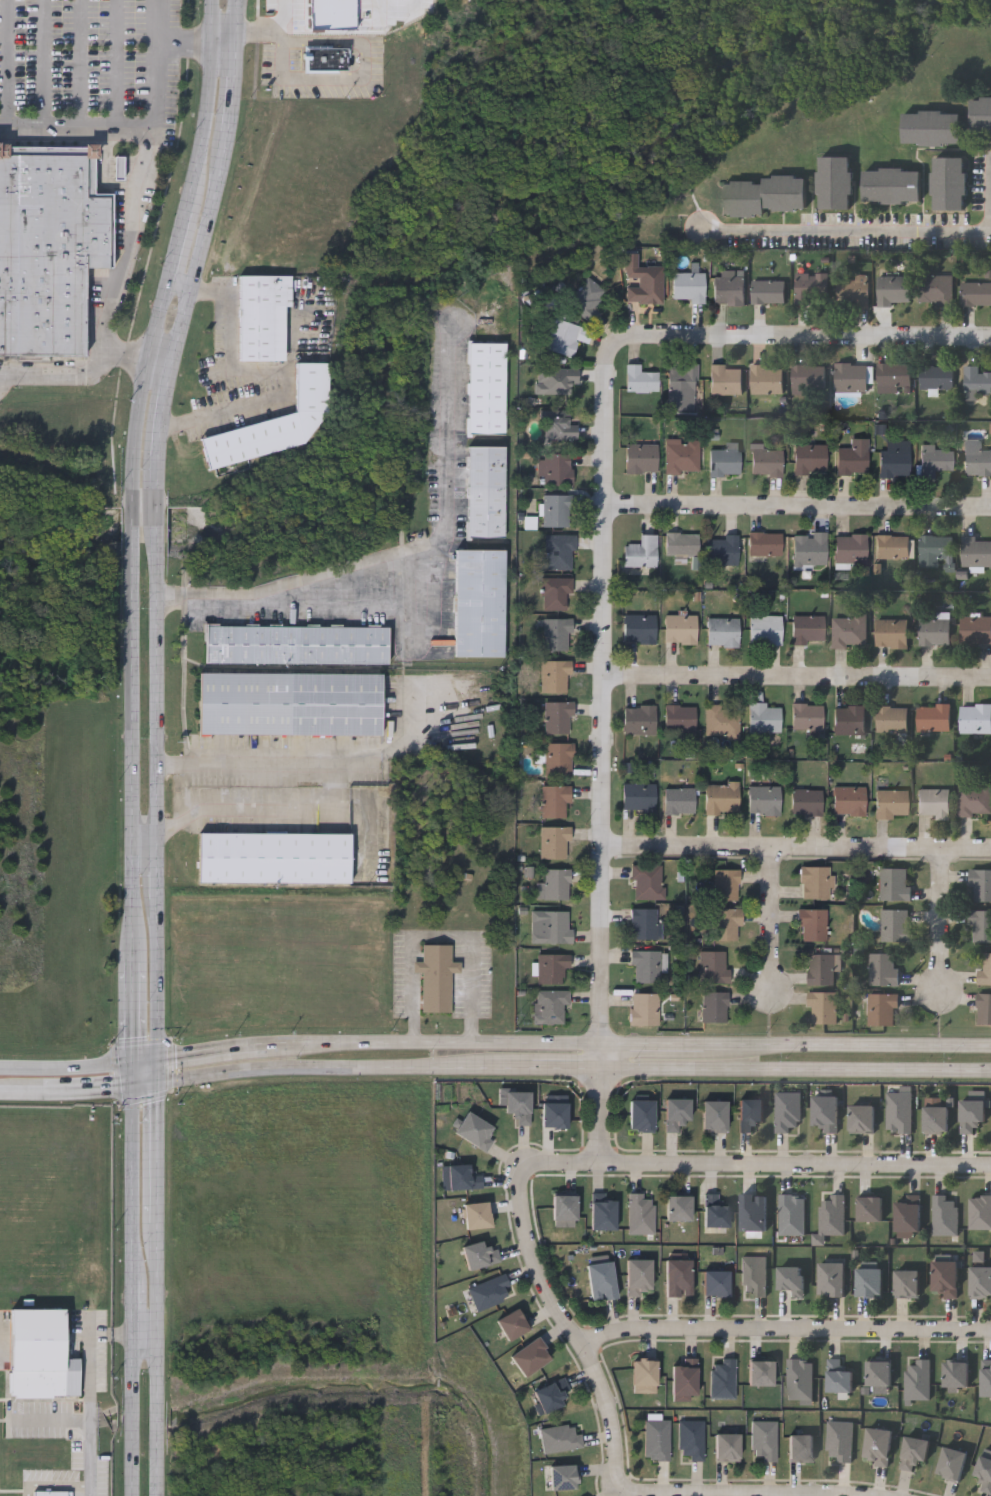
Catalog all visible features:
road: (160, 17)
road: (265, 17)
building: (325, 57)
road: (7, 63)
road: (45, 63)
road: (81, 63)
road: (116, 64)
road: (366, 78)
road: (156, 95)
building: (982, 116)
building: (933, 127)
building: (836, 181)
building: (951, 182)
building: (894, 185)
building: (765, 194)
road: (990, 195)
road: (845, 234)
road: (130, 237)
building: (49, 243)
building: (689, 286)
building: (730, 287)
building: (814, 288)
building: (894, 289)
building: (938, 289)
building: (854, 290)
building: (770, 291)
building: (976, 292)
building: (586, 299)
building: (263, 315)
building: (563, 336)
road: (269, 368)
road: (92, 373)
building: (895, 376)
building: (937, 376)
building: (852, 377)
building: (555, 379)
building: (641, 379)
building: (810, 379)
building: (977, 379)
building: (726, 380)
building: (768, 380)
building: (486, 386)
building: (684, 387)
building: (275, 422)
building: (559, 425)
building: (682, 456)
building: (642, 457)
building: (976, 457)
building: (810, 458)
building: (852, 458)
building: (895, 458)
building: (936, 458)
building: (725, 460)
building: (766, 460)
building: (555, 467)
road: (134, 476)
building: (486, 492)
road: (797, 508)
building: (556, 510)
road: (604, 514)
road: (155, 527)
building: (682, 542)
building: (765, 543)
building: (894, 546)
road: (402, 548)
building: (810, 548)
building: (851, 548)
building: (722, 549)
building: (935, 549)
building: (558, 551)
building: (641, 551)
building: (975, 551)
building: (555, 592)
road: (415, 595)
building: (480, 601)
road: (335, 603)
building: (639, 628)
building: (680, 628)
building: (765, 629)
building: (808, 630)
building: (723, 631)
building: (850, 631)
building: (976, 631)
building: (936, 632)
building: (893, 633)
building: (557, 634)
building: (297, 644)
building: (555, 676)
road: (798, 677)
building: (290, 703)
building: (807, 716)
building: (558, 717)
building: (764, 717)
building: (935, 717)
building: (893, 718)
building: (976, 718)
building: (639, 719)
building: (680, 719)
building: (850, 719)
building: (723, 720)
building: (559, 758)
road: (314, 764)
building: (638, 797)
building: (722, 797)
building: (764, 798)
building: (679, 799)
building: (849, 800)
building: (975, 800)
building: (555, 801)
building: (807, 801)
building: (892, 802)
building: (934, 803)
road: (247, 809)
building: (554, 842)
road: (796, 848)
building: (274, 856)
building: (647, 882)
building: (815, 882)
building: (556, 883)
building: (726, 884)
building: (896, 884)
building: (981, 884)
building: (644, 923)
building: (727, 924)
building: (812, 924)
building: (896, 925)
building: (981, 926)
building: (551, 927)
road: (768, 929)
road: (937, 929)
road: (441, 934)
building: (646, 965)
building: (713, 966)
building: (551, 967)
building: (824, 968)
building: (986, 968)
building: (885, 969)
building: (436, 976)
building: (550, 1006)
building: (714, 1006)
building: (823, 1007)
building: (644, 1008)
building: (984, 1008)
building: (882, 1009)
road: (134, 1014)
road: (433, 1041)
road: (654, 1045)
road: (848, 1045)
road: (211, 1053)
traffic signals: (158, 1063)
road: (146, 1065)
traffic signals: (135, 1067)
road: (309, 1069)
road: (532, 1069)
road: (796, 1069)
road: (67, 1070)
road: (157, 1074)
road: (135, 1078)
traffic signals: (157, 1086)
road: (146, 1087)
traffic signals: (136, 1089)
road: (68, 1092)
building: (518, 1107)
building: (787, 1112)
building: (676, 1113)
building: (898, 1113)
building: (750, 1114)
building: (824, 1114)
building: (553, 1115)
building: (970, 1115)
road: (602, 1116)
building: (640, 1116)
building: (714, 1117)
building: (862, 1119)
building: (936, 1120)
road: (157, 1155)
road: (756, 1164)
building: (462, 1178)
building: (563, 1206)
building: (678, 1207)
building: (870, 1207)
building: (714, 1211)
building: (753, 1211)
building: (980, 1211)
building: (639, 1213)
building: (476, 1214)
building: (603, 1214)
building: (791, 1214)
building: (831, 1214)
building: (907, 1215)
building: (944, 1215)
building: (479, 1254)
building: (753, 1275)
building: (637, 1276)
building: (677, 1277)
building: (945, 1277)
building: (831, 1278)
building: (791, 1279)
building: (600, 1280)
building: (869, 1281)
building: (980, 1281)
building: (715, 1282)
building: (906, 1283)
road: (134, 1292)
building: (488, 1292)
airport: (57, 1301)
building: (512, 1324)
road: (569, 1326)
road: (145, 1329)
road: (786, 1331)
building: (40, 1352)
building: (530, 1355)
road: (157, 1360)
building: (760, 1372)
building: (879, 1372)
building: (956, 1373)
building: (643, 1375)
building: (838, 1376)
building: (684, 1378)
building: (722, 1379)
building: (798, 1379)
building: (917, 1379)
building: (986, 1379)
building: (551, 1394)
road: (90, 1416)
building: (689, 1437)
building: (559, 1438)
building: (656, 1439)
building: (763, 1441)
building: (839, 1441)
building: (878, 1445)
building: (727, 1447)
building: (800, 1447)
building: (914, 1451)
building: (951, 1464)
building: (984, 1474)
building: (562, 1477)
building: (51, 1492)
road: (665, 1494)

